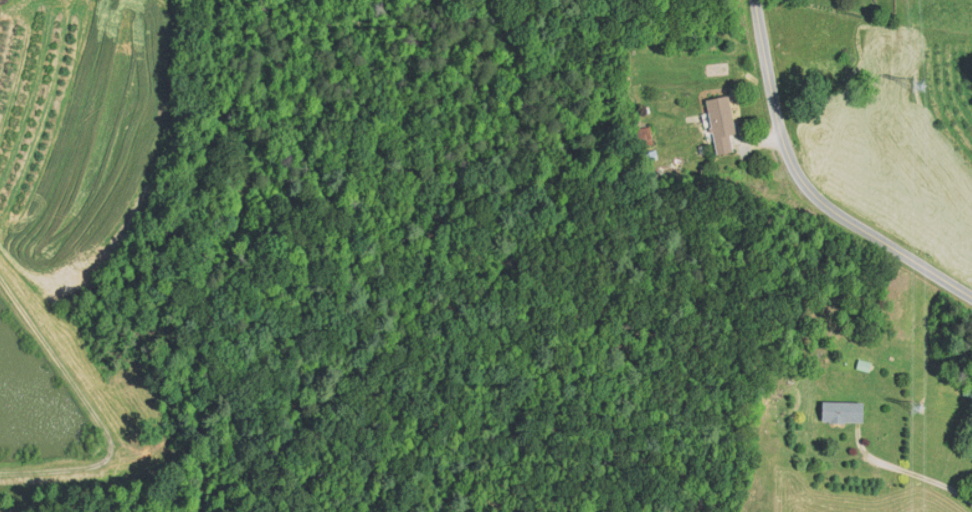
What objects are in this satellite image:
power tower: (919, 86)
building: (722, 124)
building: (644, 136)
road: (812, 182)
building: (863, 364)
building: (967, 390)
power tower: (914, 406)
building: (841, 411)
road: (905, 470)

